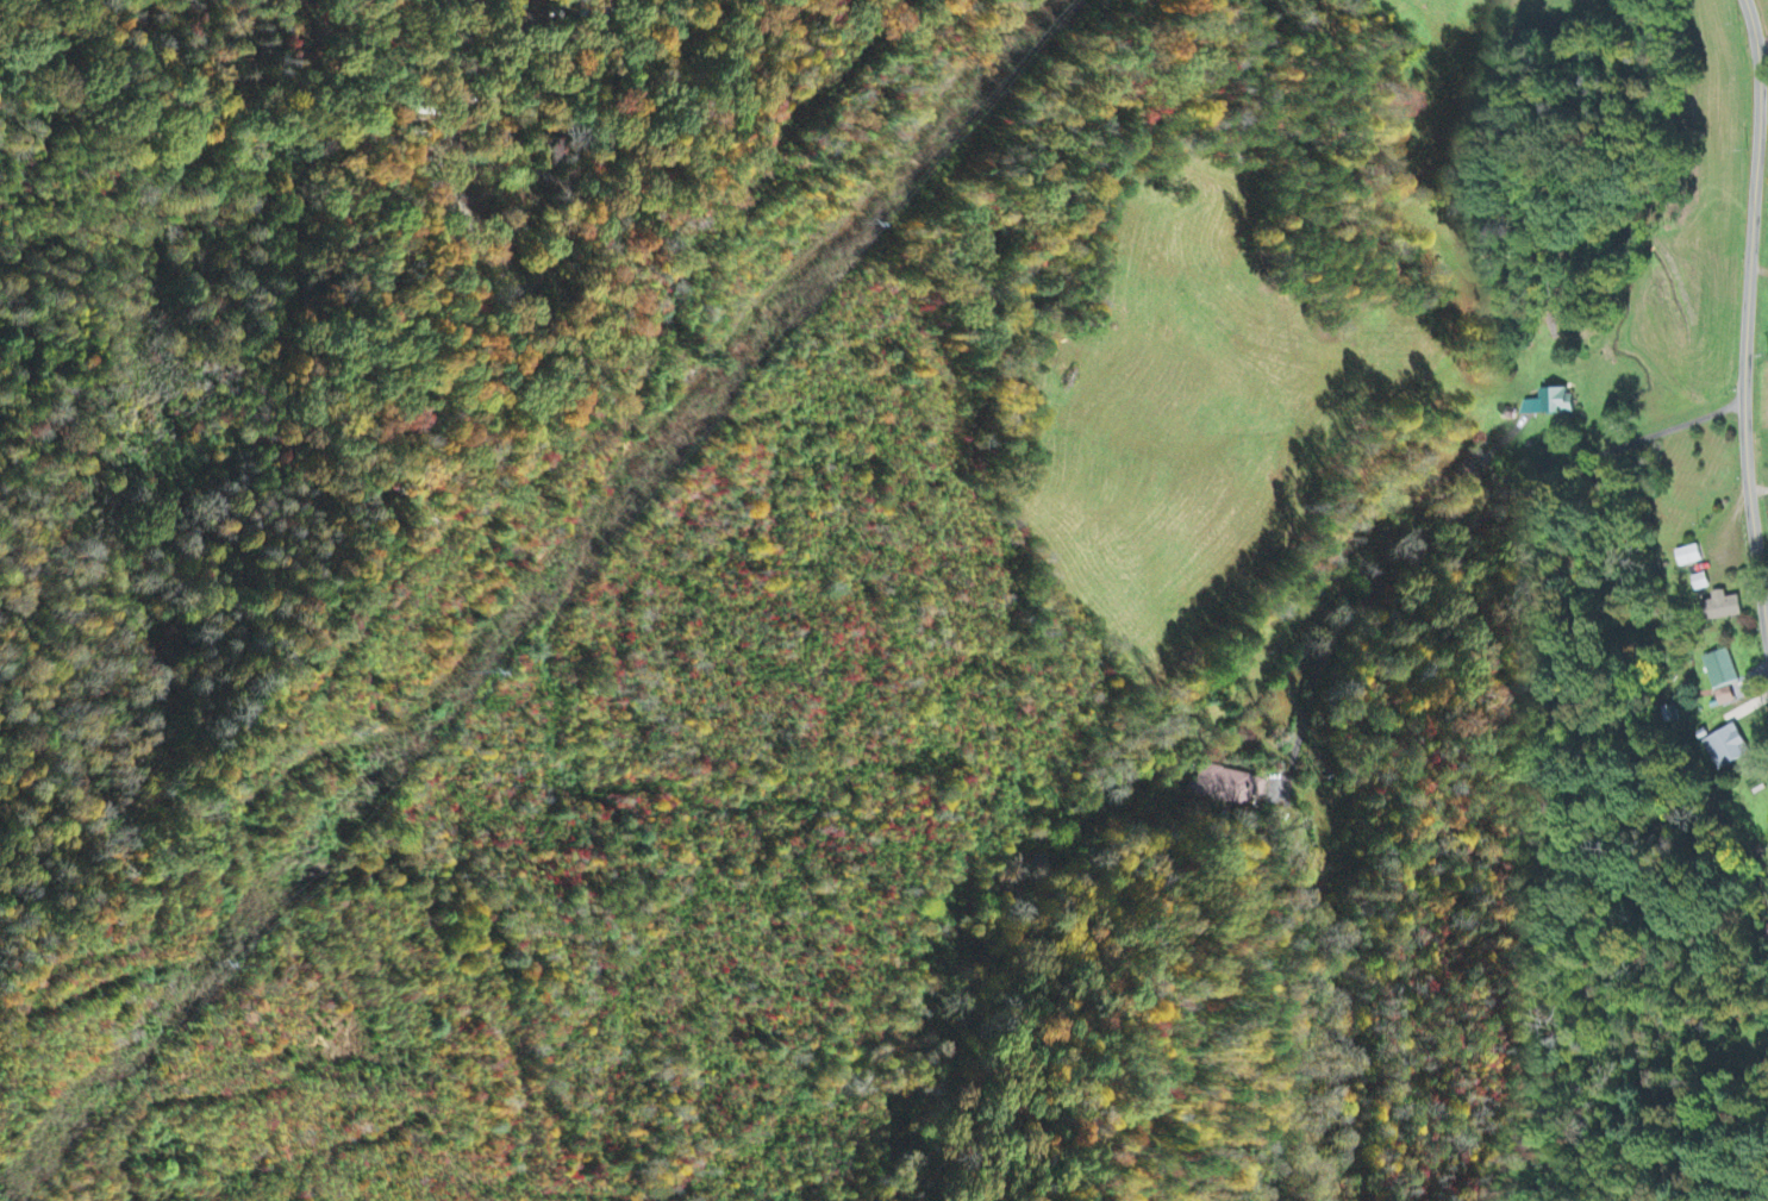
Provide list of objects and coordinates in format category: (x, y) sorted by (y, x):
road: (1762, 46)
road: (1761, 158)
building: (1549, 405)
building: (1688, 557)
building: (1700, 583)
building: (1720, 608)
building: (1722, 677)
building: (1726, 749)
building: (1226, 787)

